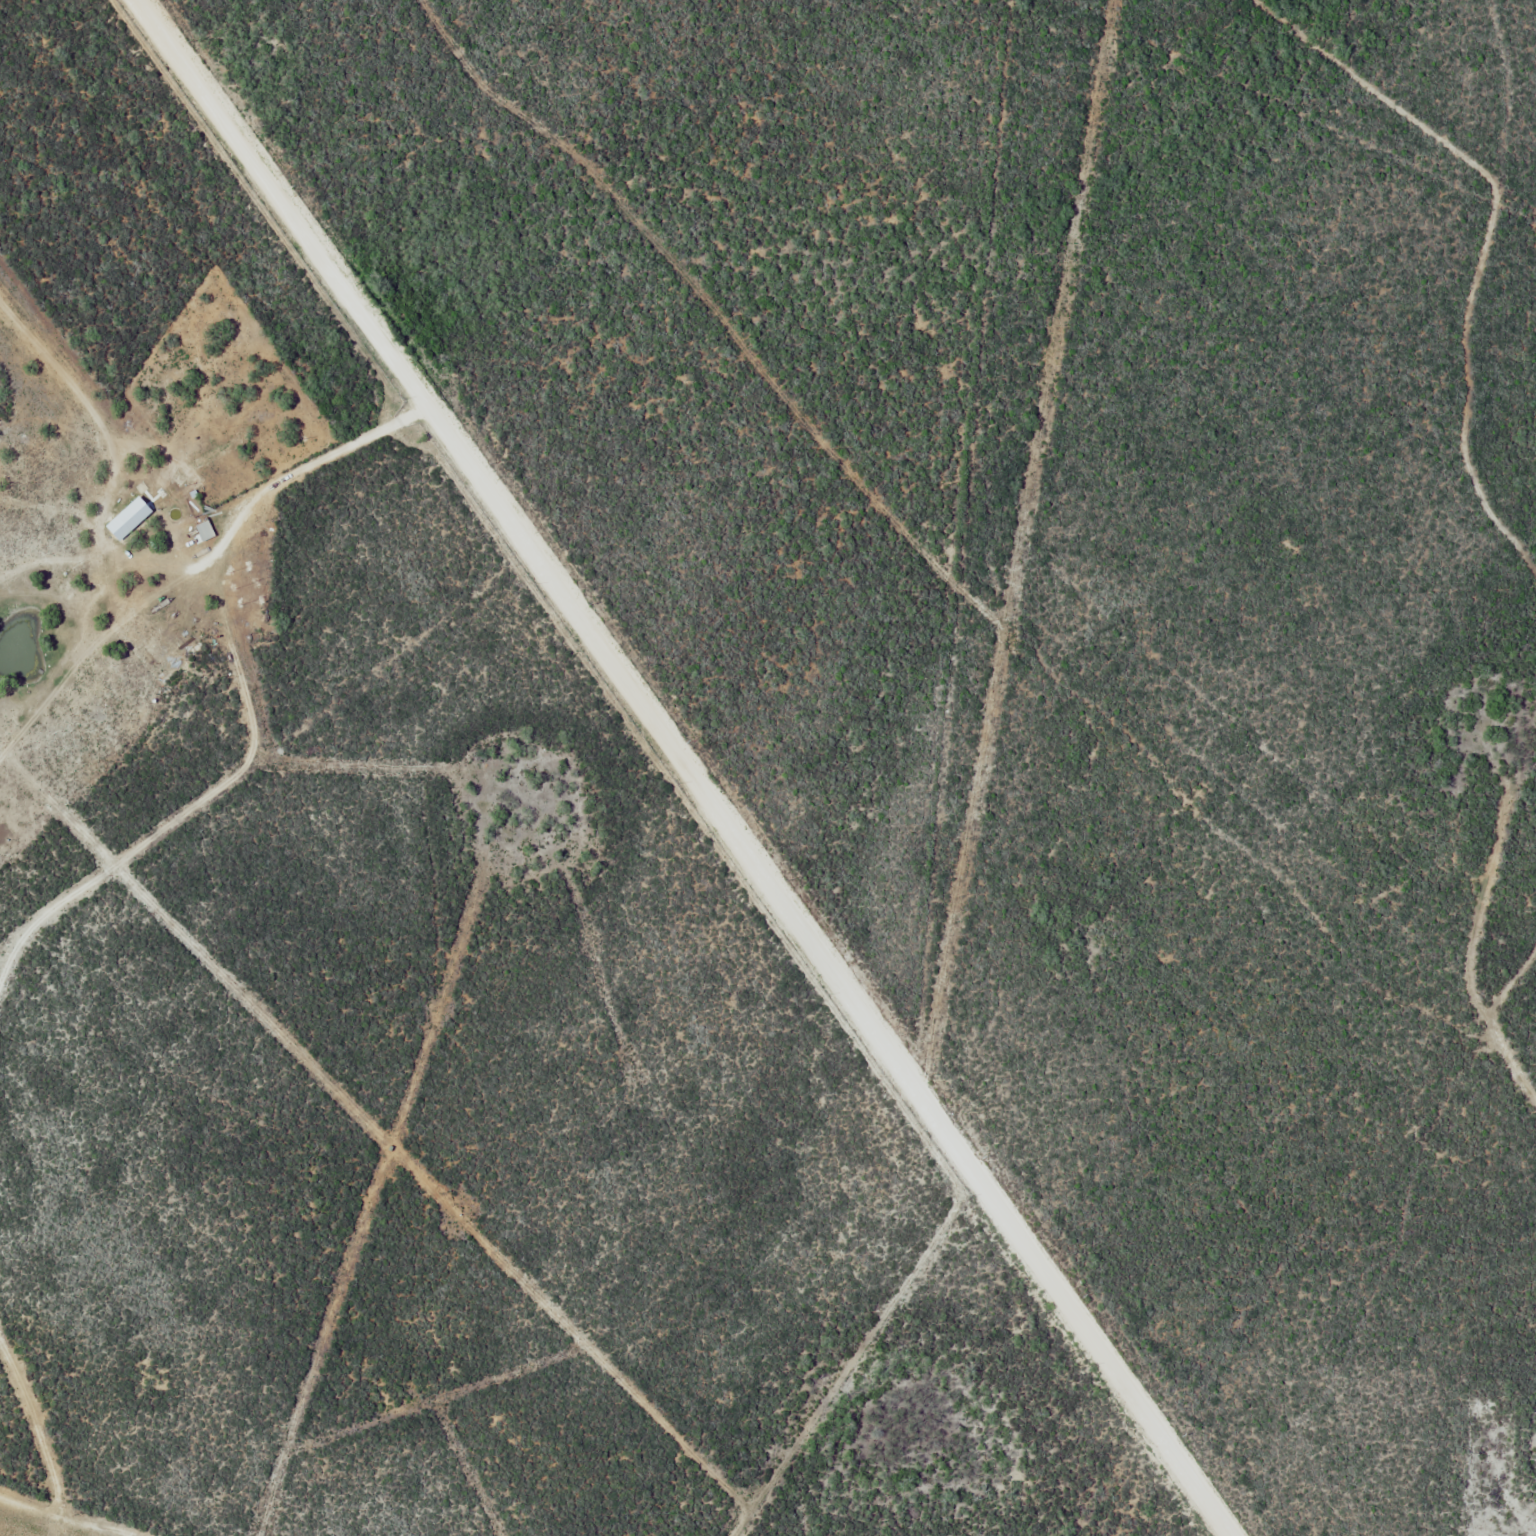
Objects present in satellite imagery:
road: (261, 490)
building: (202, 527)
road: (681, 767)

